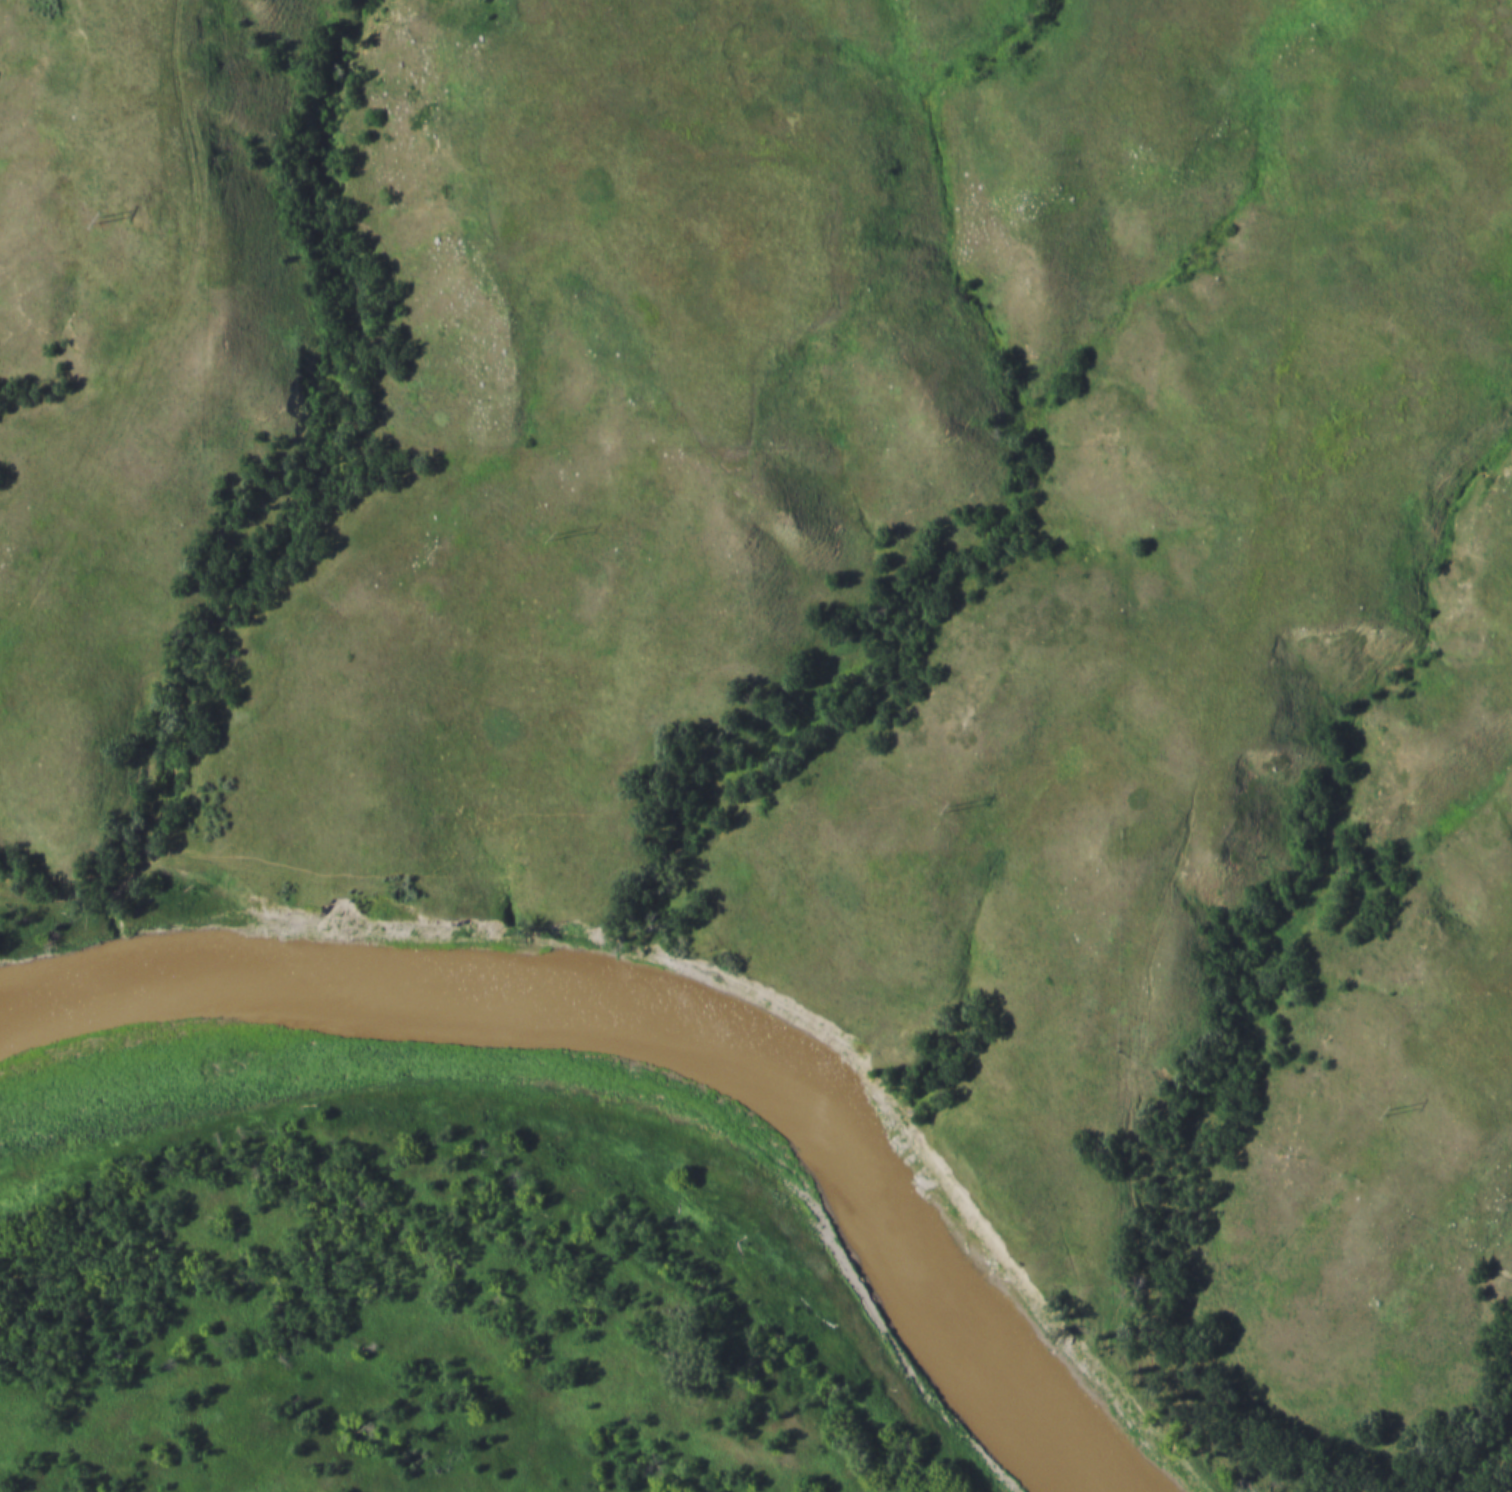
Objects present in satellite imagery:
river: (648, 1048)

